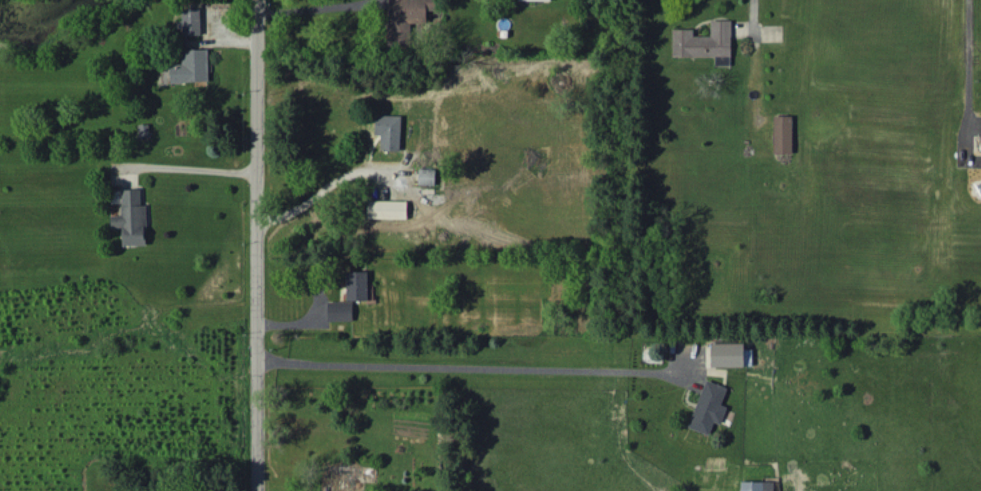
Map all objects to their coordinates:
building: (543, 0)
road: (314, 5)
road: (752, 14)
building: (405, 18)
building: (191, 21)
building: (705, 42)
road: (964, 48)
building: (190, 66)
building: (388, 131)
building: (782, 134)
road: (191, 167)
building: (426, 176)
road: (327, 186)
building: (386, 209)
building: (131, 218)
road: (259, 245)
building: (356, 285)
building: (339, 310)
building: (730, 354)
road: (466, 369)
building: (708, 407)
building: (756, 485)

